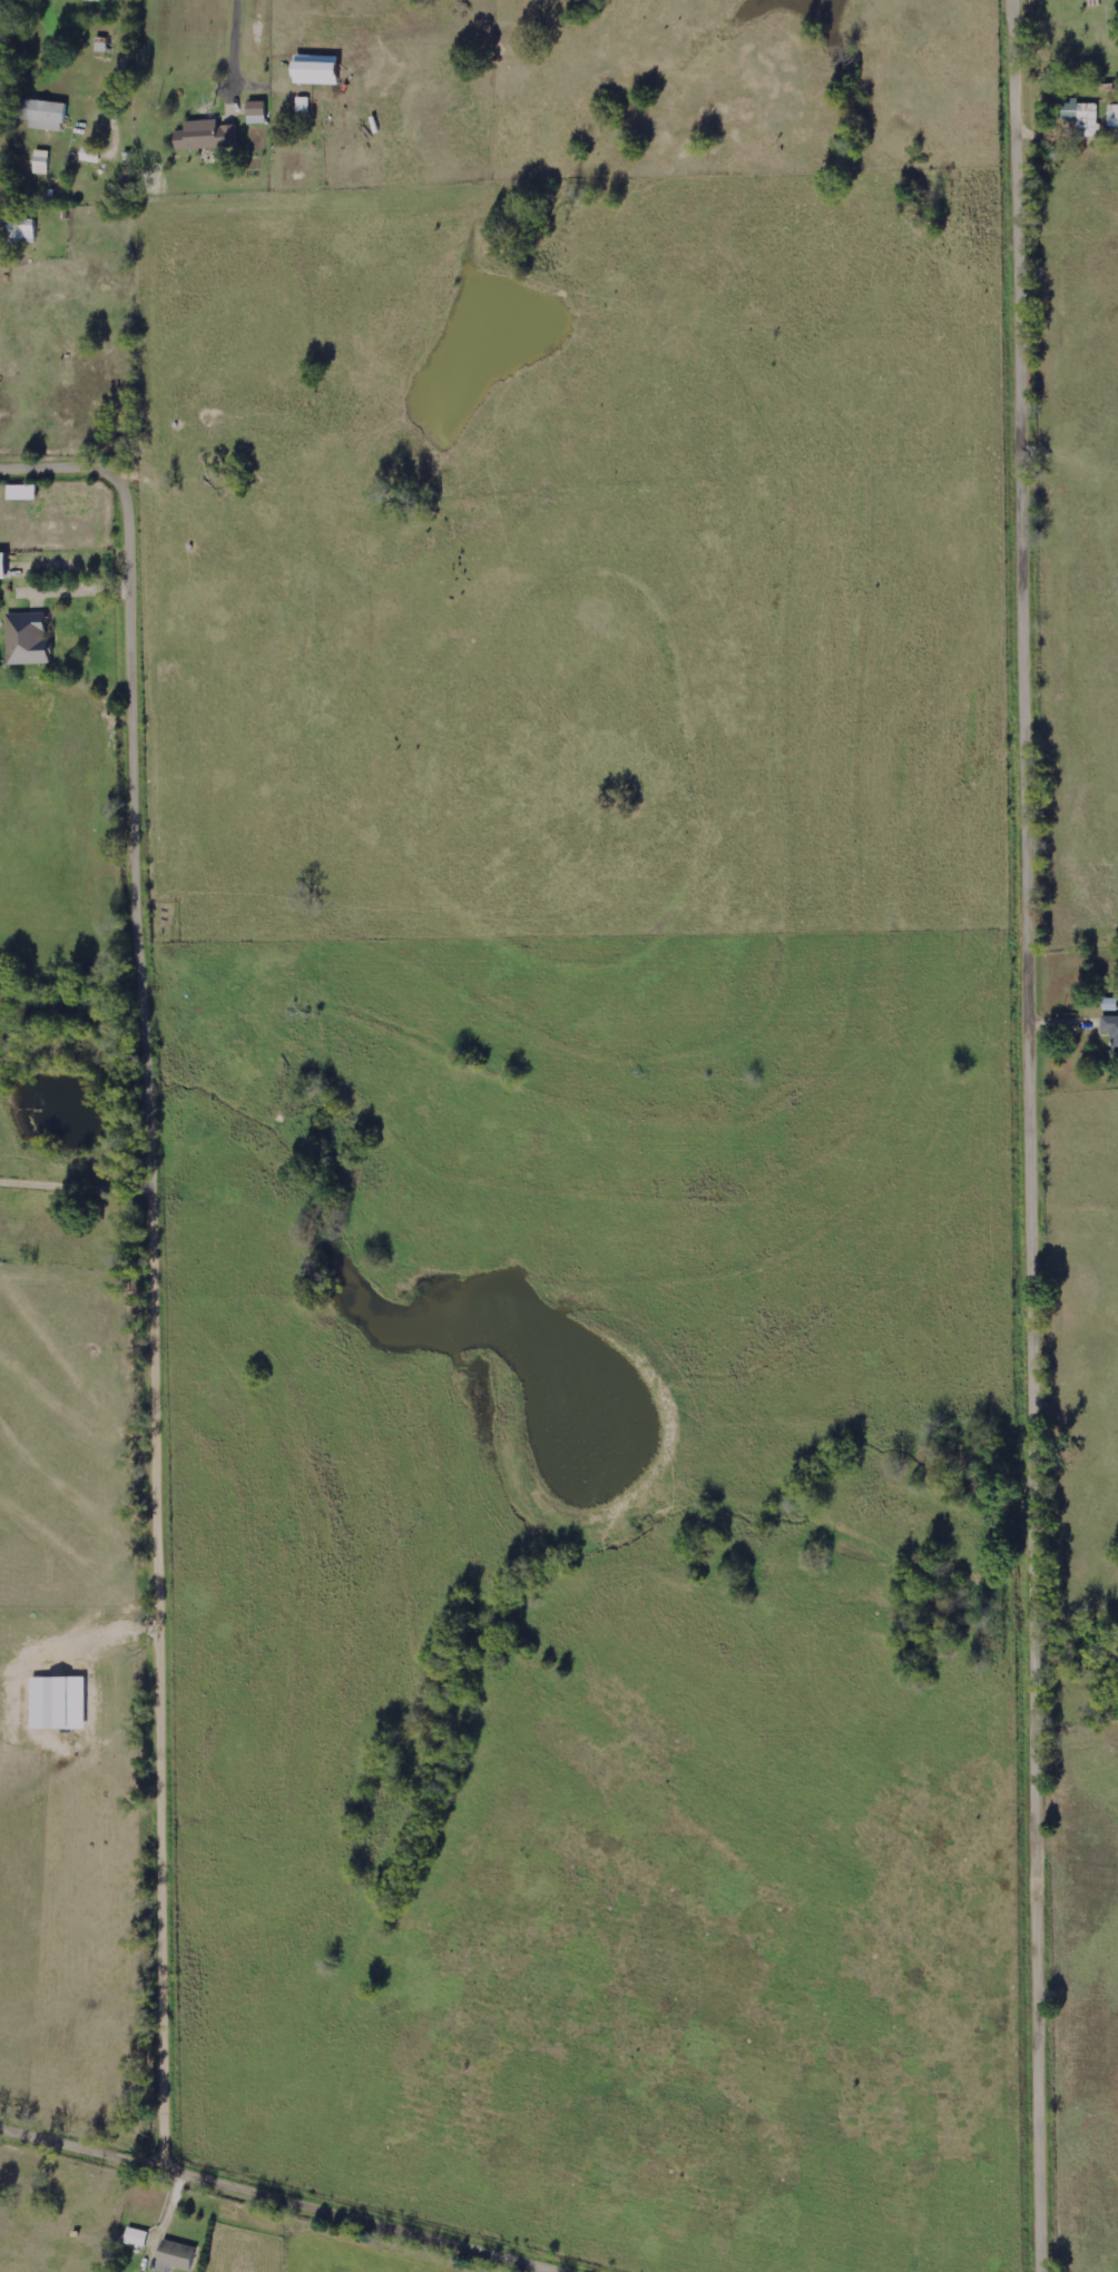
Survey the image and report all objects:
building: (94, 0)
road: (233, 39)
building: (321, 71)
building: (303, 106)
building: (258, 114)
building: (45, 116)
building: (1085, 117)
building: (1115, 117)
building: (207, 139)
building: (91, 156)
building: (42, 163)
building: (24, 234)
building: (26, 493)
building: (6, 567)
building: (1111, 1029)
road: (1038, 1135)
road: (159, 1265)
road: (275, 2200)
building: (138, 2237)
building: (178, 2258)

